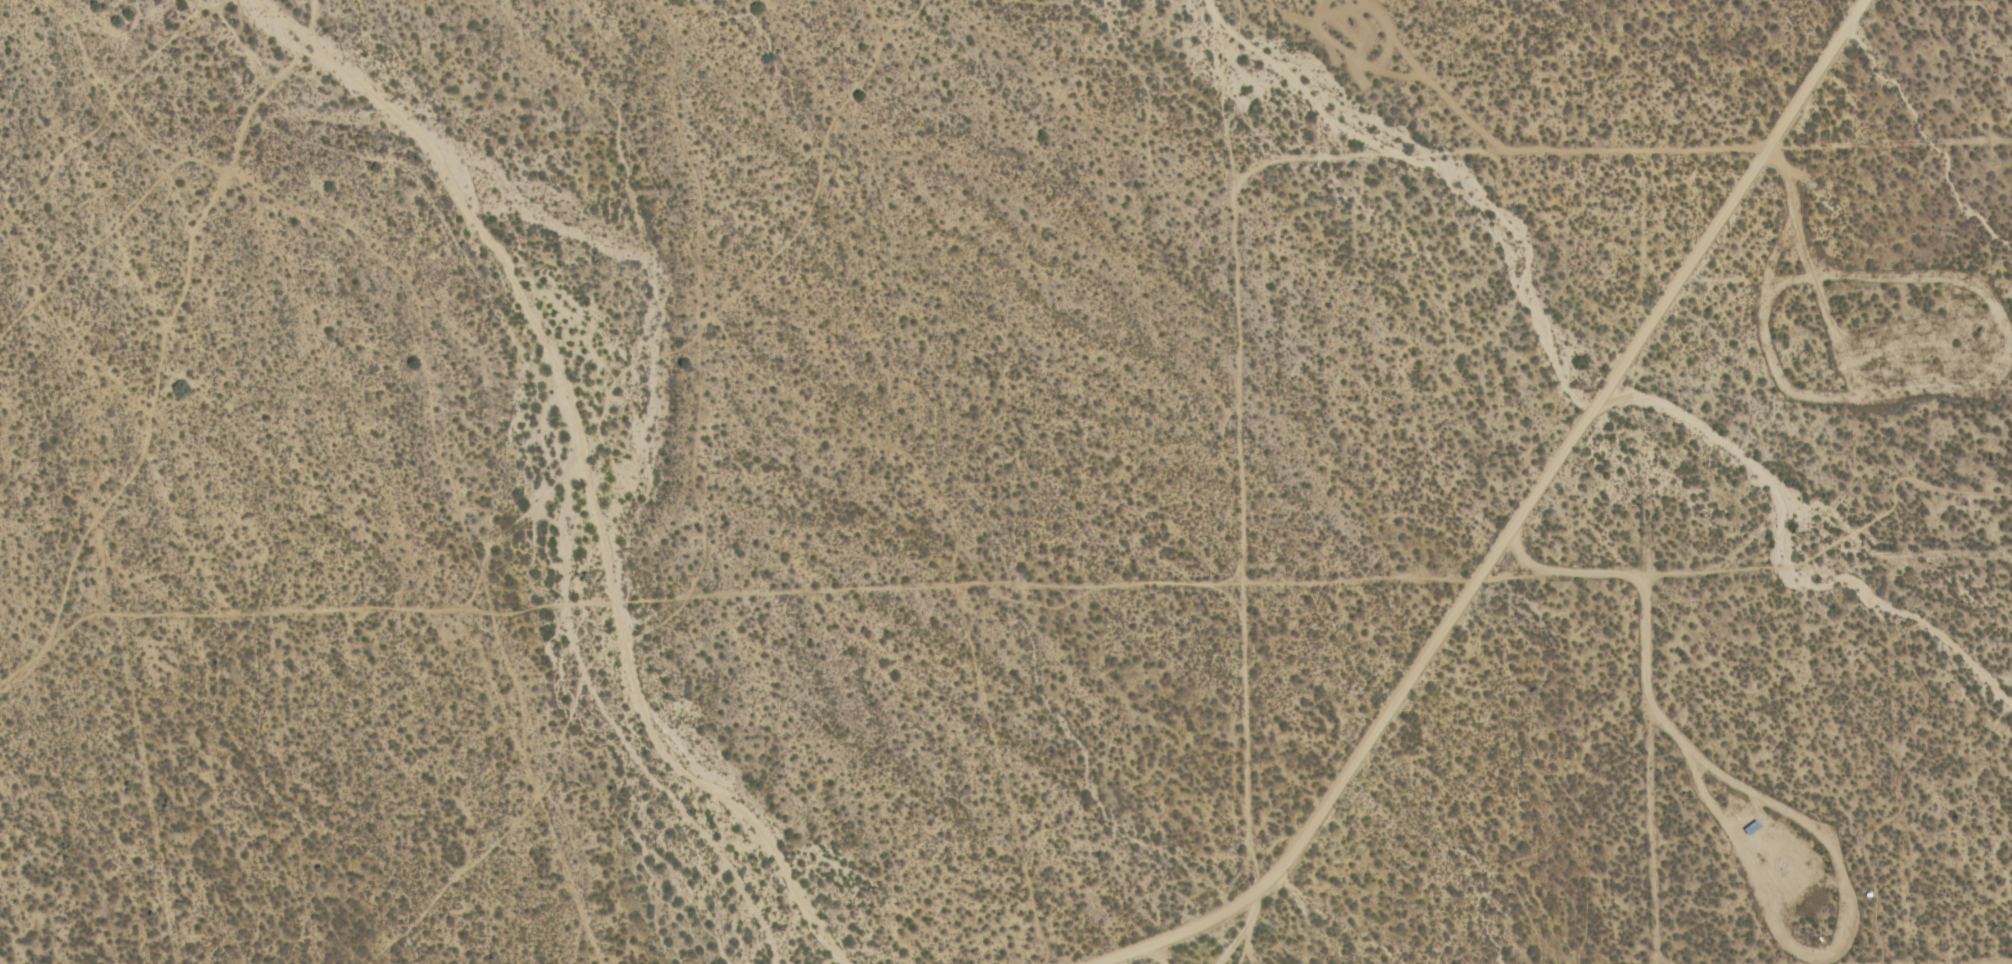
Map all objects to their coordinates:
road: (1510, 521)

